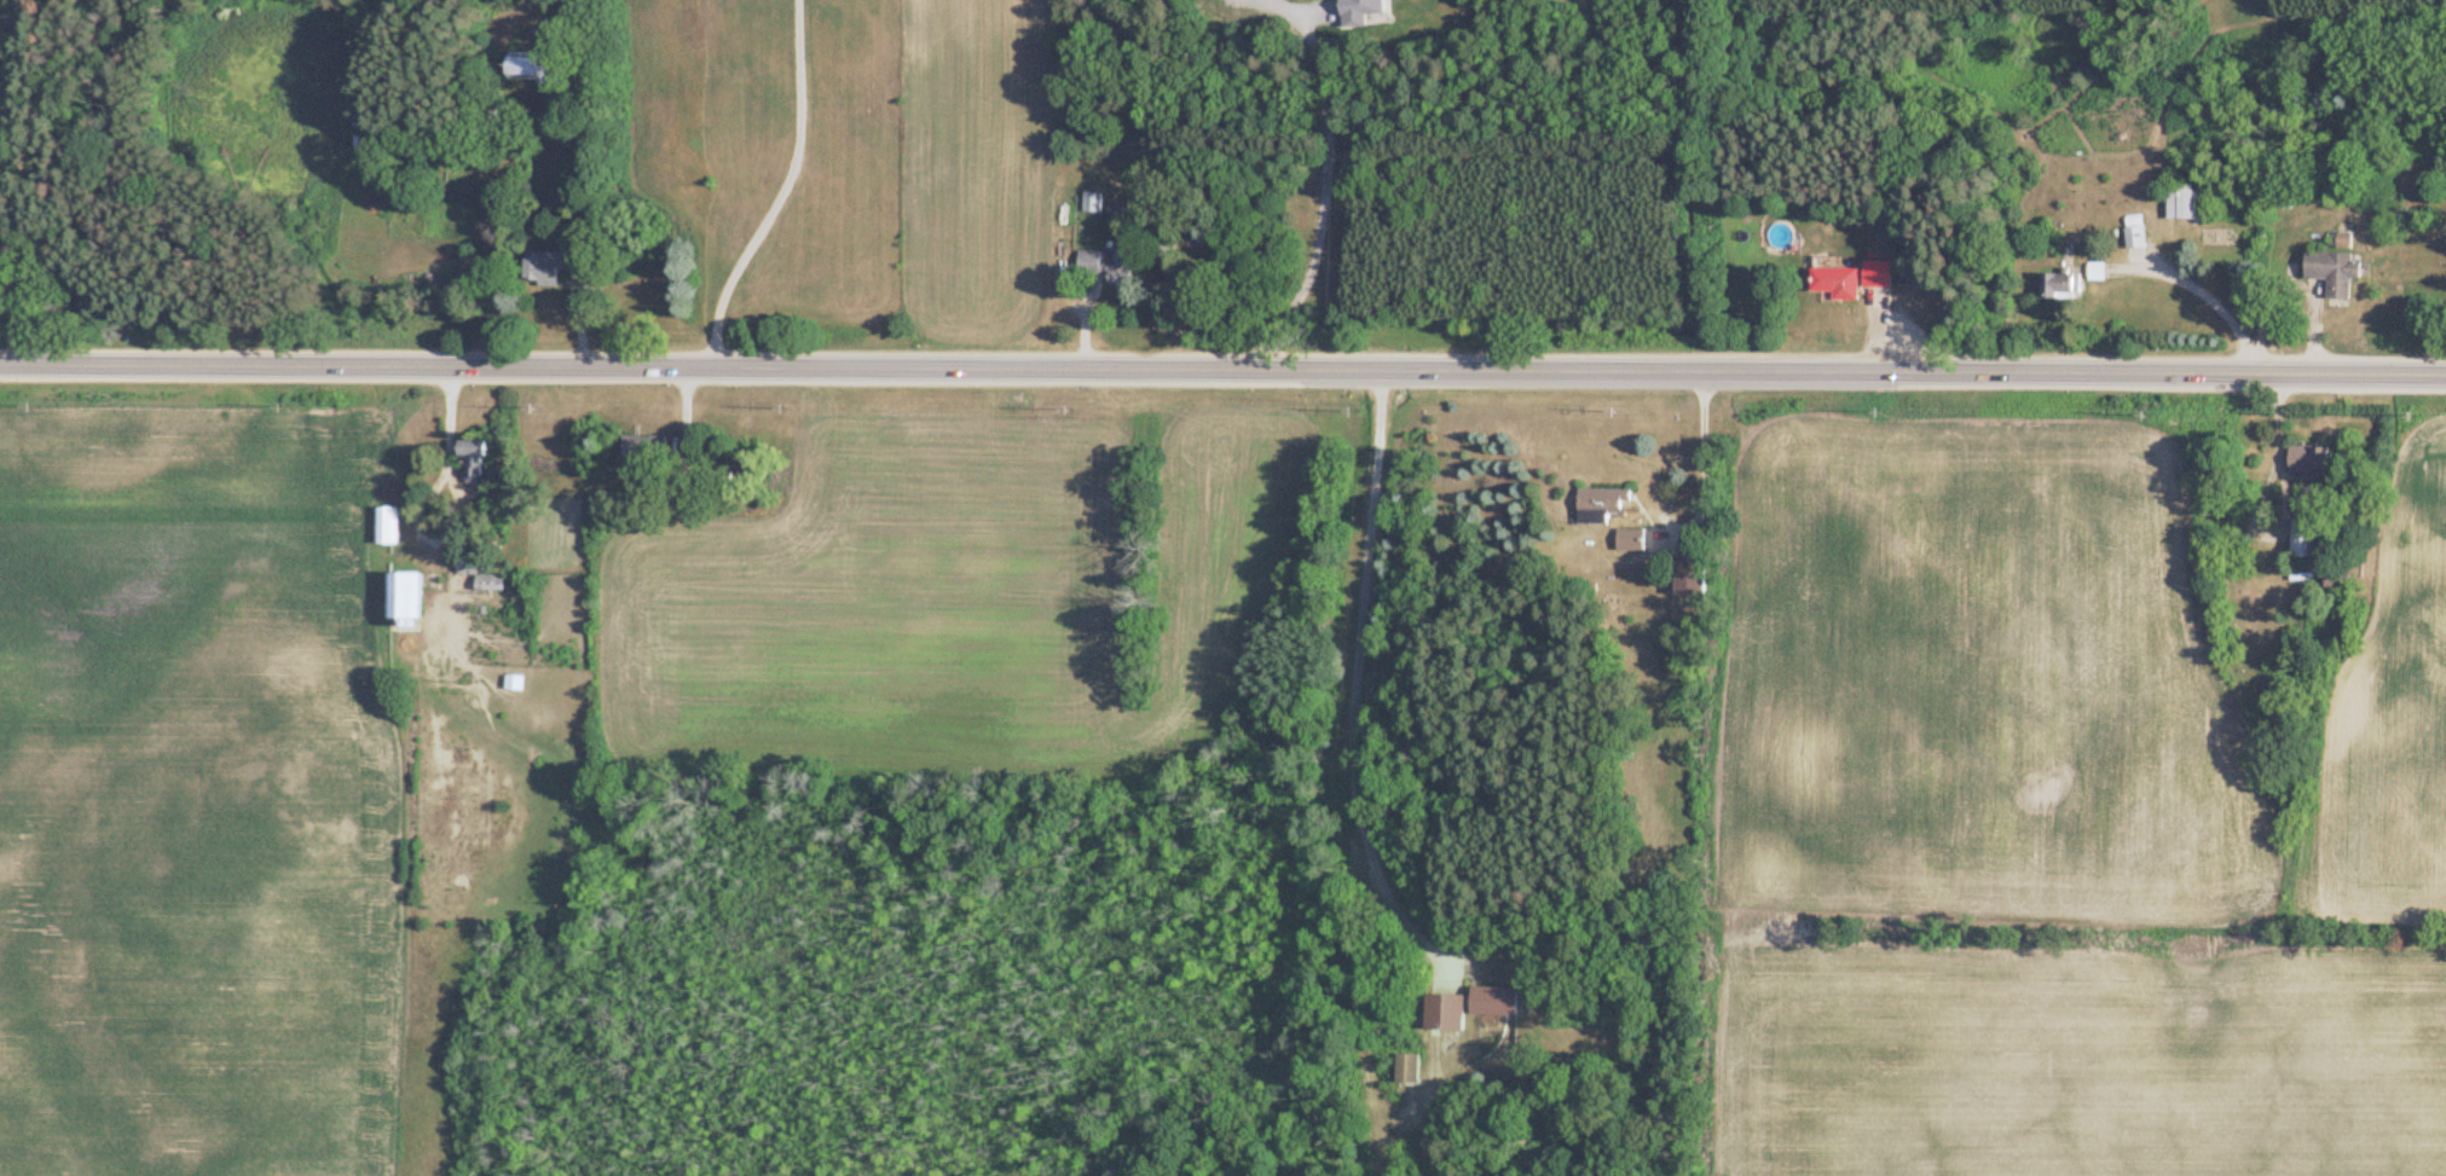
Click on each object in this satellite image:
building: (519, 65)
road: (1320, 189)
road: (776, 191)
building: (1088, 202)
building: (2180, 202)
building: (2129, 238)
building: (2340, 241)
building: (1093, 268)
building: (2328, 273)
building: (1846, 278)
building: (2052, 286)
road: (2208, 291)
road: (1222, 371)
building: (640, 446)
road: (1698, 458)
building: (2300, 460)
building: (466, 462)
road: (457, 502)
building: (1596, 505)
road: (2284, 508)
building: (2297, 539)
building: (1626, 540)
building: (1684, 577)
building: (429, 592)
road: (1354, 680)
building: (1488, 1002)
building: (1440, 1014)
building: (1403, 1070)

